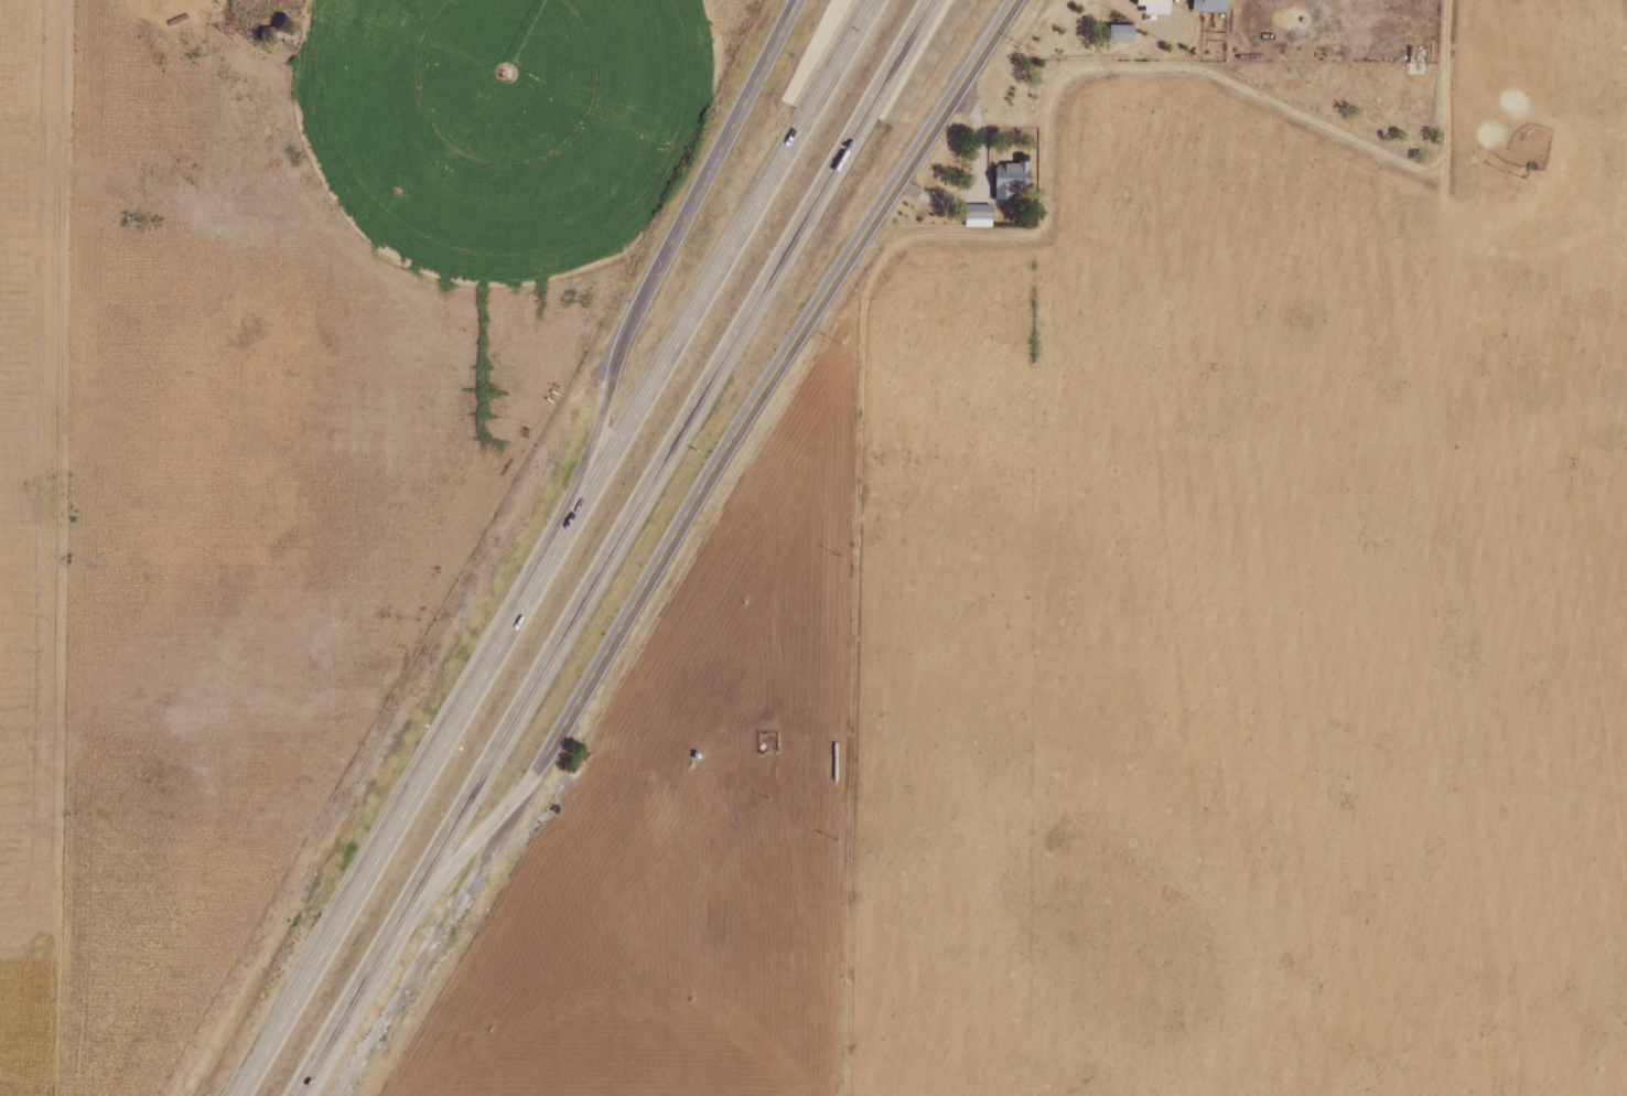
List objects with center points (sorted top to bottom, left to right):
building: (1213, 6)
building: (1159, 7)
building: (1122, 34)
road: (708, 166)
building: (1012, 180)
building: (981, 216)
road: (771, 379)
road: (582, 468)
road: (559, 546)
road: (618, 547)
road: (858, 660)
road: (445, 872)

